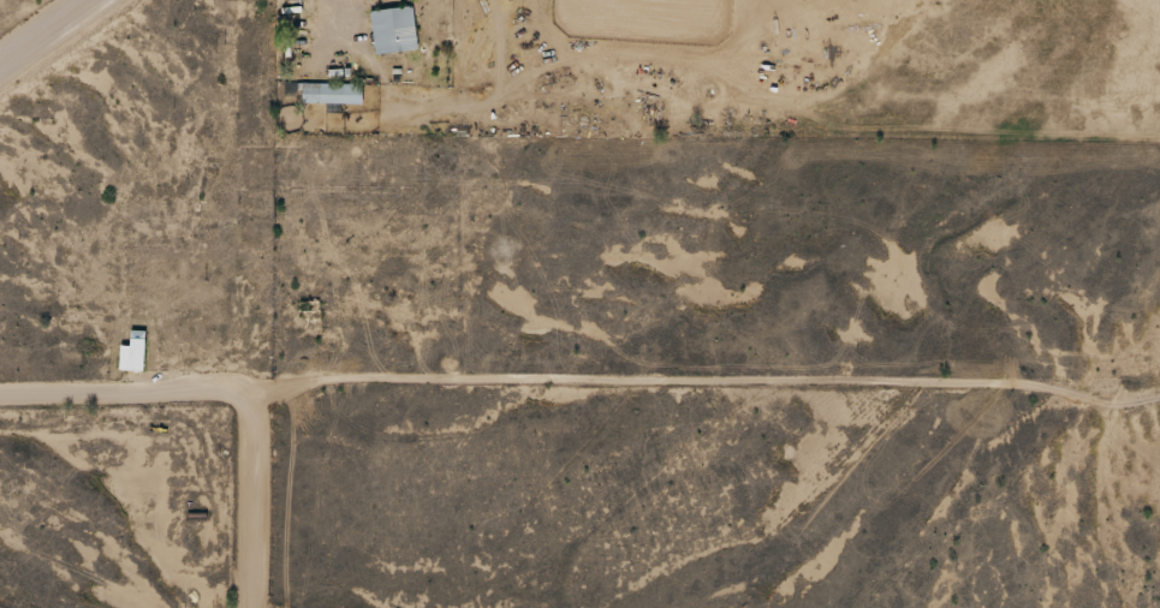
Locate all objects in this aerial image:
building: (392, 31)
road: (49, 34)
building: (331, 95)
building: (131, 354)
road: (579, 397)
road: (251, 499)

